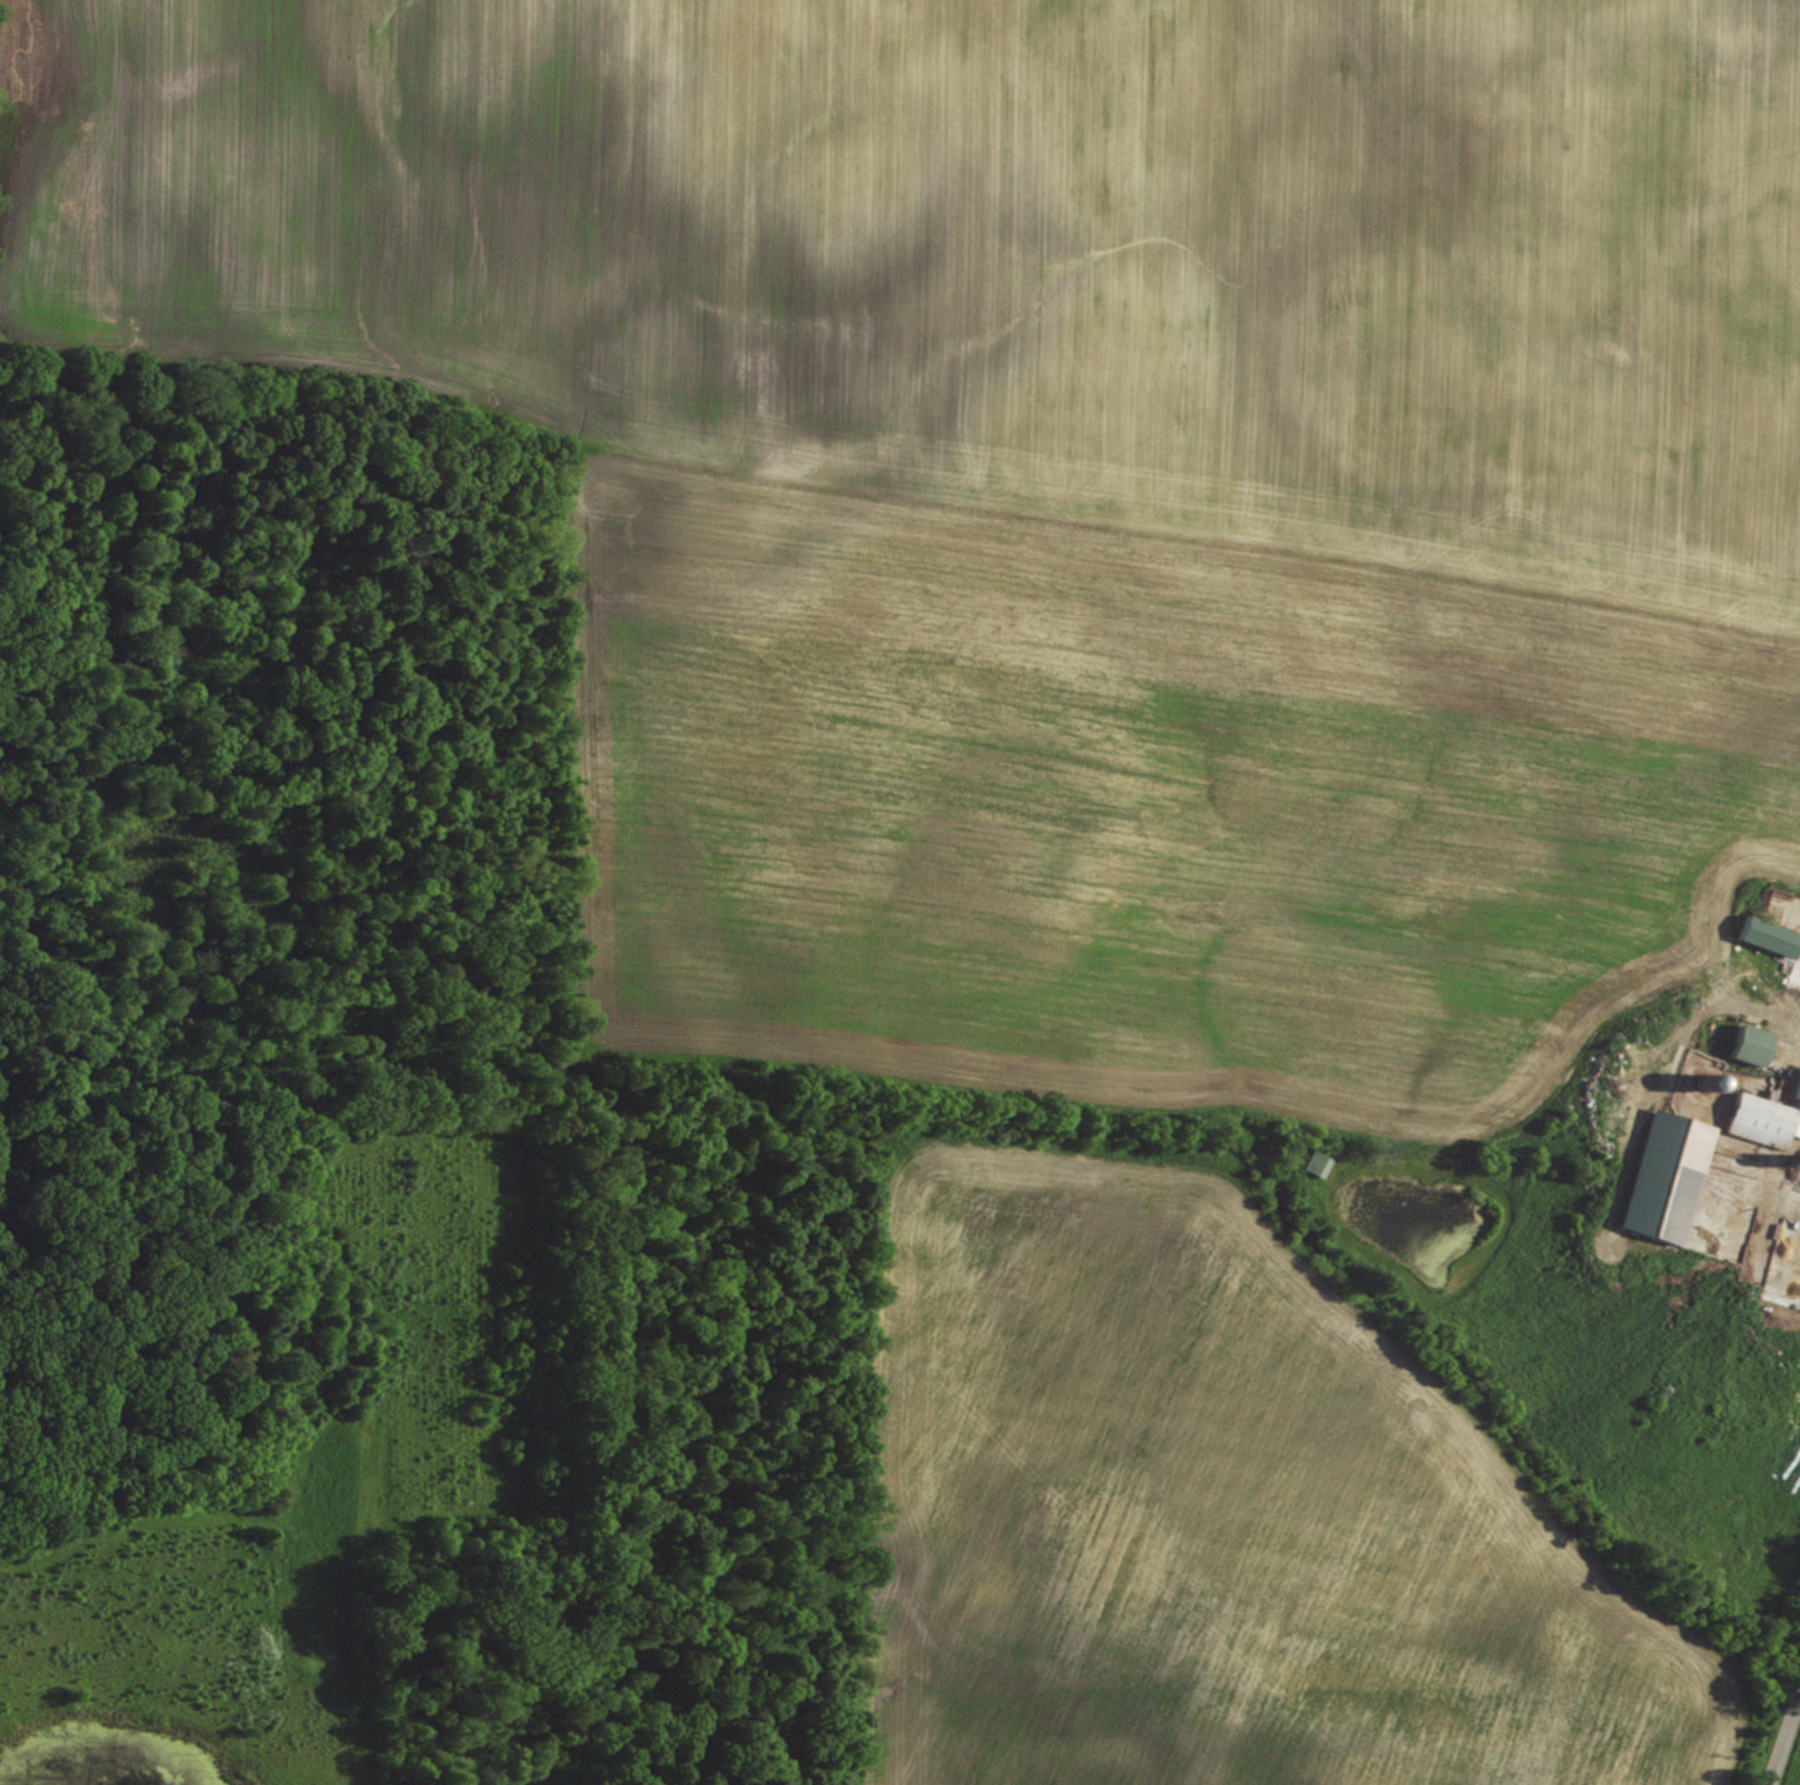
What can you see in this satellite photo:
building: (1769, 934)
building: (1751, 1041)
building: (1766, 1112)
building: (1316, 1162)
building: (1663, 1172)
road: (1784, 1738)

